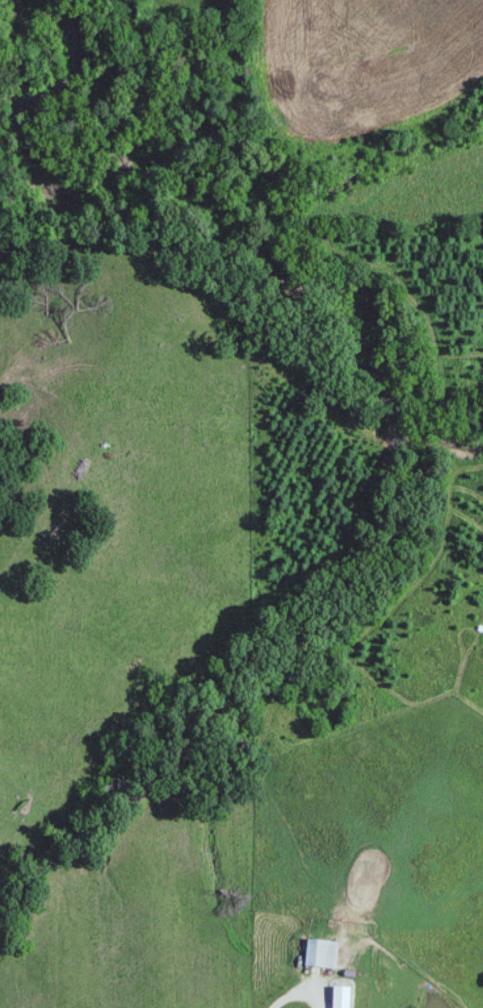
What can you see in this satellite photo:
building: (322, 952)
road: (302, 983)
building: (343, 996)

